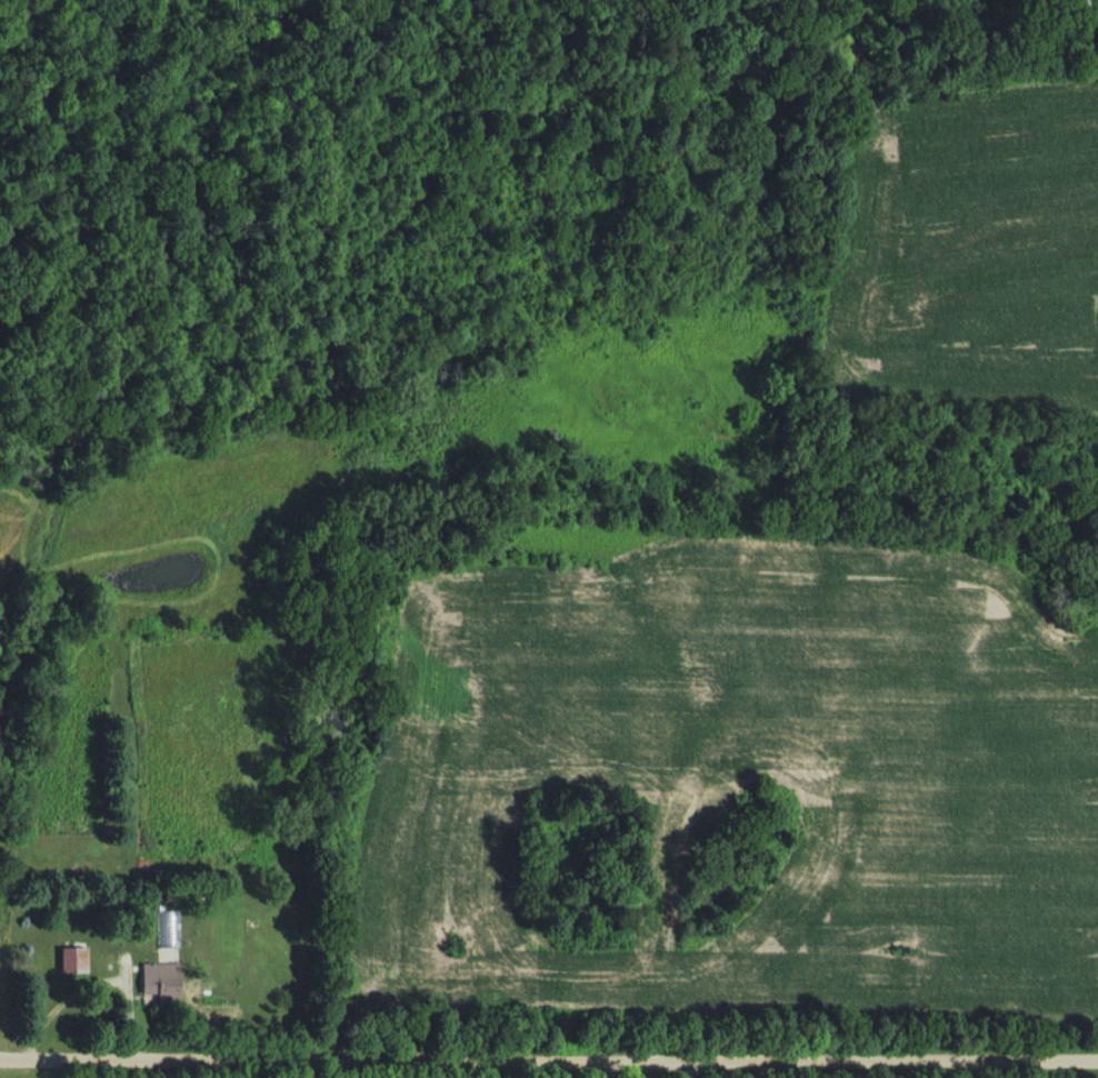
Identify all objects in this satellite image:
building: (1085, 10)
building: (76, 962)
building: (163, 985)
road: (549, 1051)

